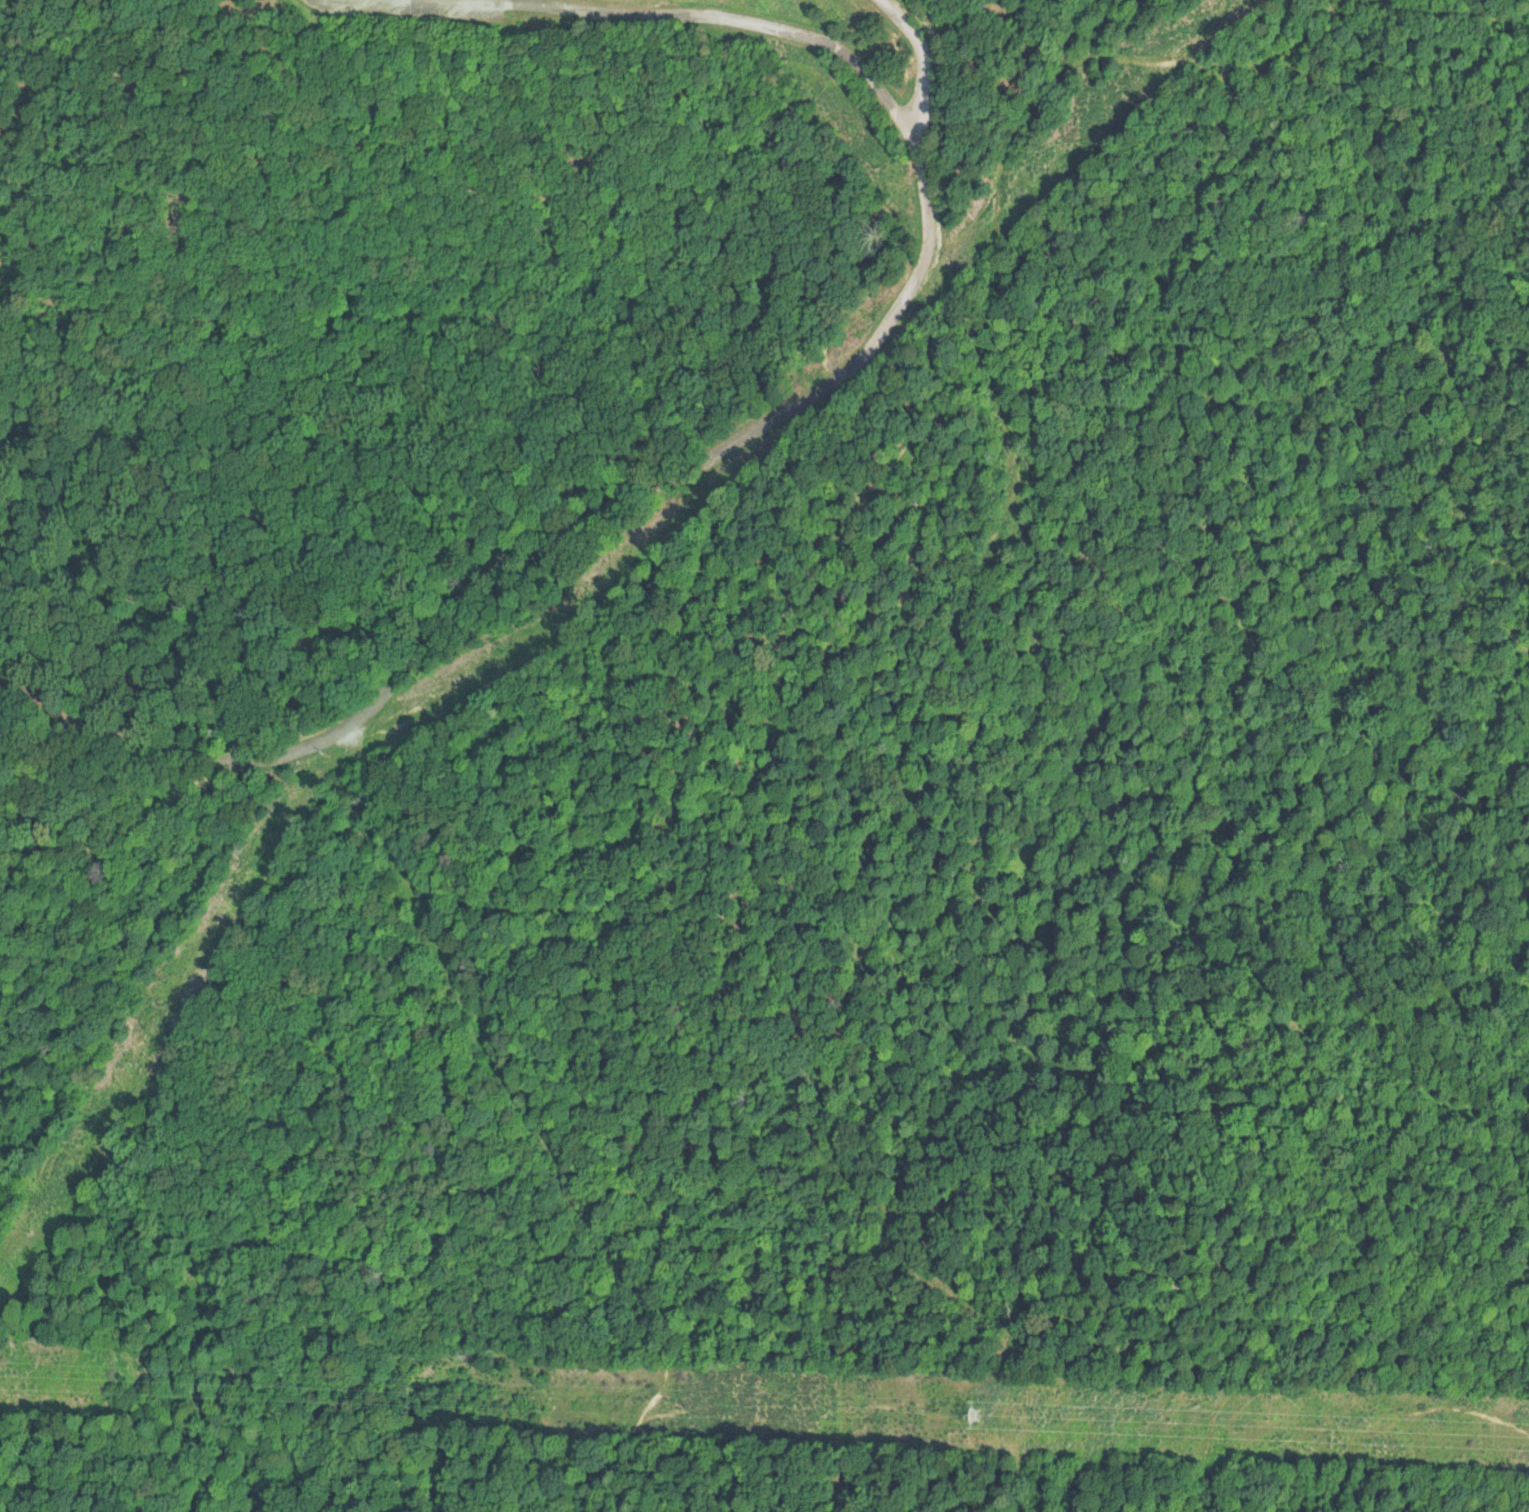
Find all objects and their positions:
road: (654, 10)
road: (932, 62)
road: (604, 359)
road: (529, 539)

